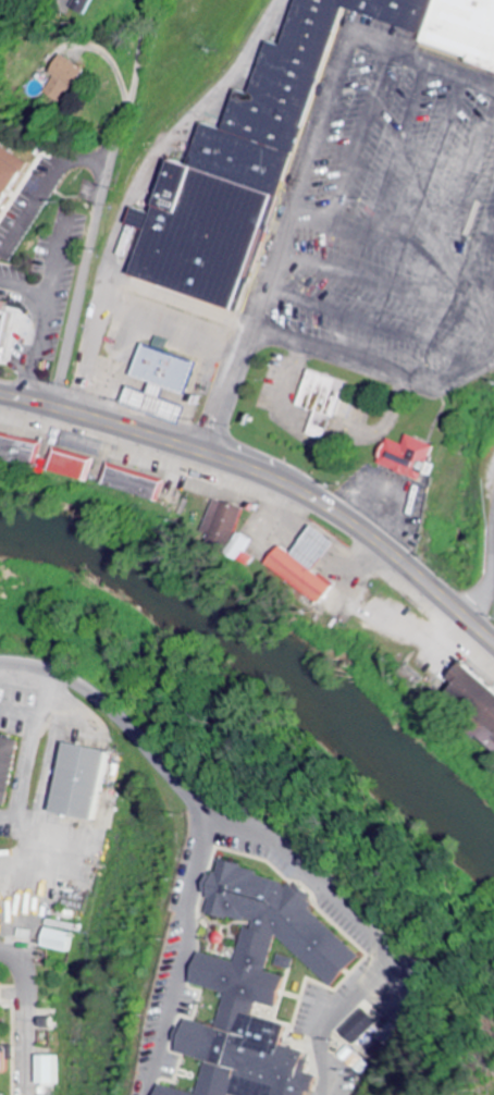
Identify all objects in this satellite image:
building: (88, 7)
road: (98, 51)
building: (72, 81)
road: (324, 112)
building: (238, 160)
building: (10, 180)
road: (100, 201)
building: (208, 213)
building: (7, 329)
road: (417, 377)
building: (168, 383)
road: (231, 390)
building: (325, 403)
building: (22, 451)
building: (412, 458)
building: (74, 466)
road: (270, 477)
building: (138, 483)
building: (230, 519)
building: (313, 566)
river: (270, 648)
road: (114, 706)
building: (9, 767)
building: (87, 782)
road: (244, 832)
building: (64, 936)
building: (261, 984)
building: (51, 1024)
building: (361, 1026)
building: (5, 1046)
building: (354, 1060)
building: (51, 1071)
building: (175, 1092)

